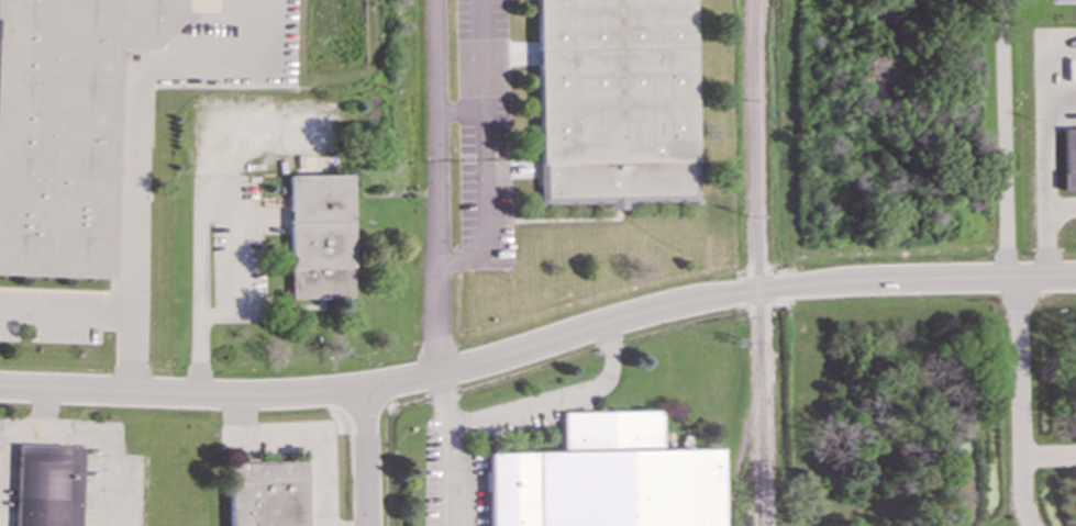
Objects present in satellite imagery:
power substation: (1064, 1)
building: (614, 101)
road: (457, 110)
building: (65, 126)
road: (1006, 139)
road: (480, 148)
road: (1047, 153)
building: (1068, 157)
road: (135, 171)
road: (434, 188)
road: (199, 198)
road: (1062, 208)
building: (319, 236)
railway: (757, 262)
road: (539, 348)
road: (127, 354)
road: (551, 399)
road: (1019, 403)
road: (44, 411)
railway: (747, 423)
road: (100, 432)
road: (304, 437)
road: (444, 450)
road: (367, 457)
building: (606, 478)
building: (47, 485)
building: (266, 493)

